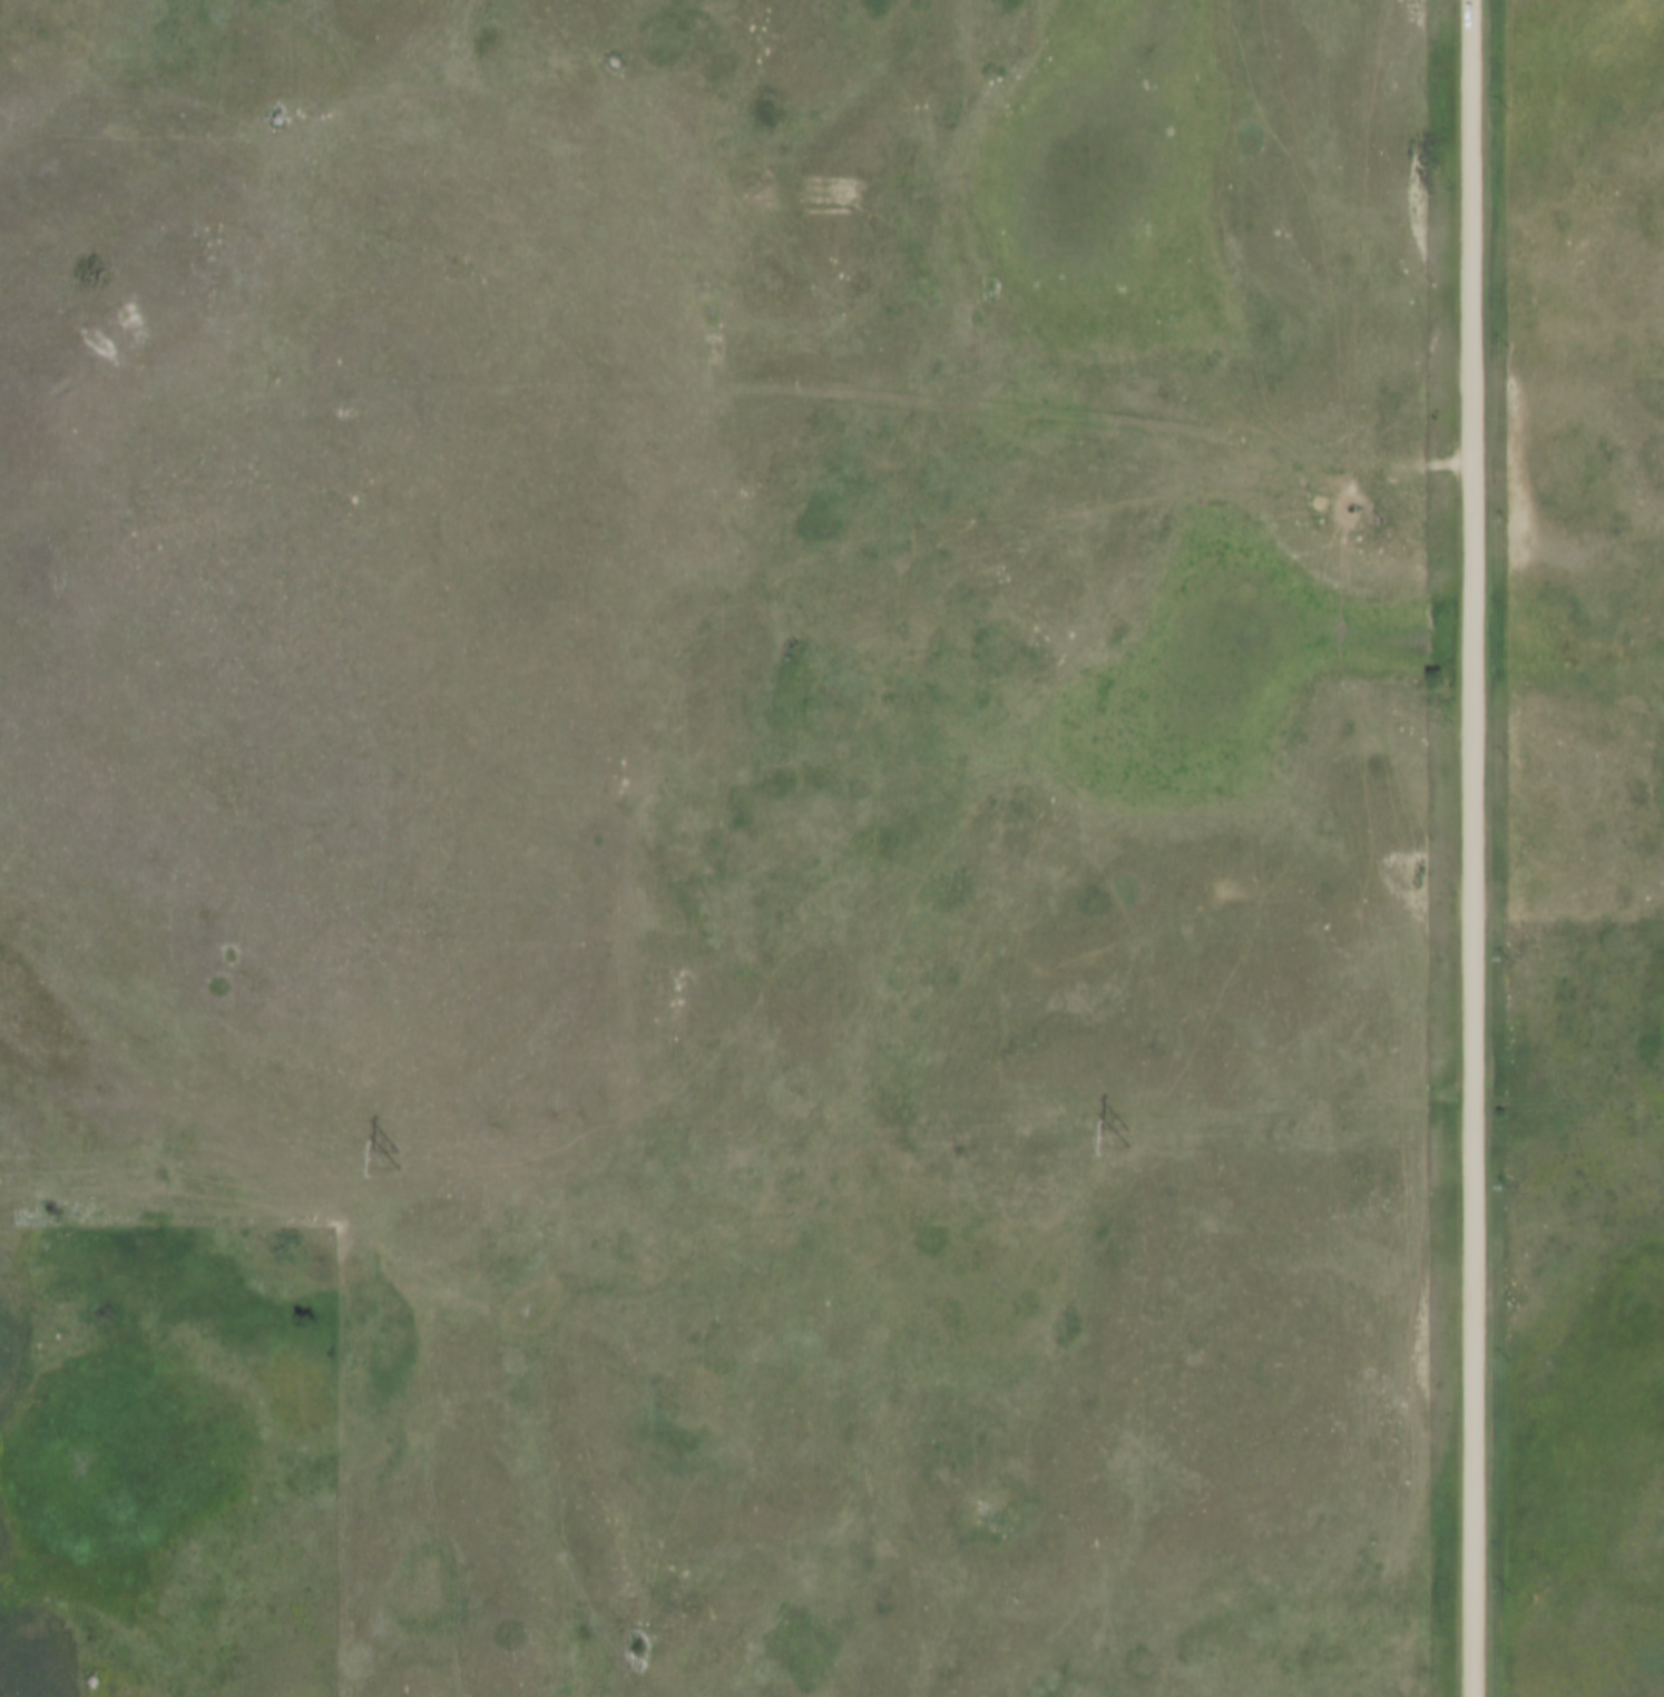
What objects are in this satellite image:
road: (1476, 848)
power tower: (1125, 1138)
power tower: (397, 1159)

